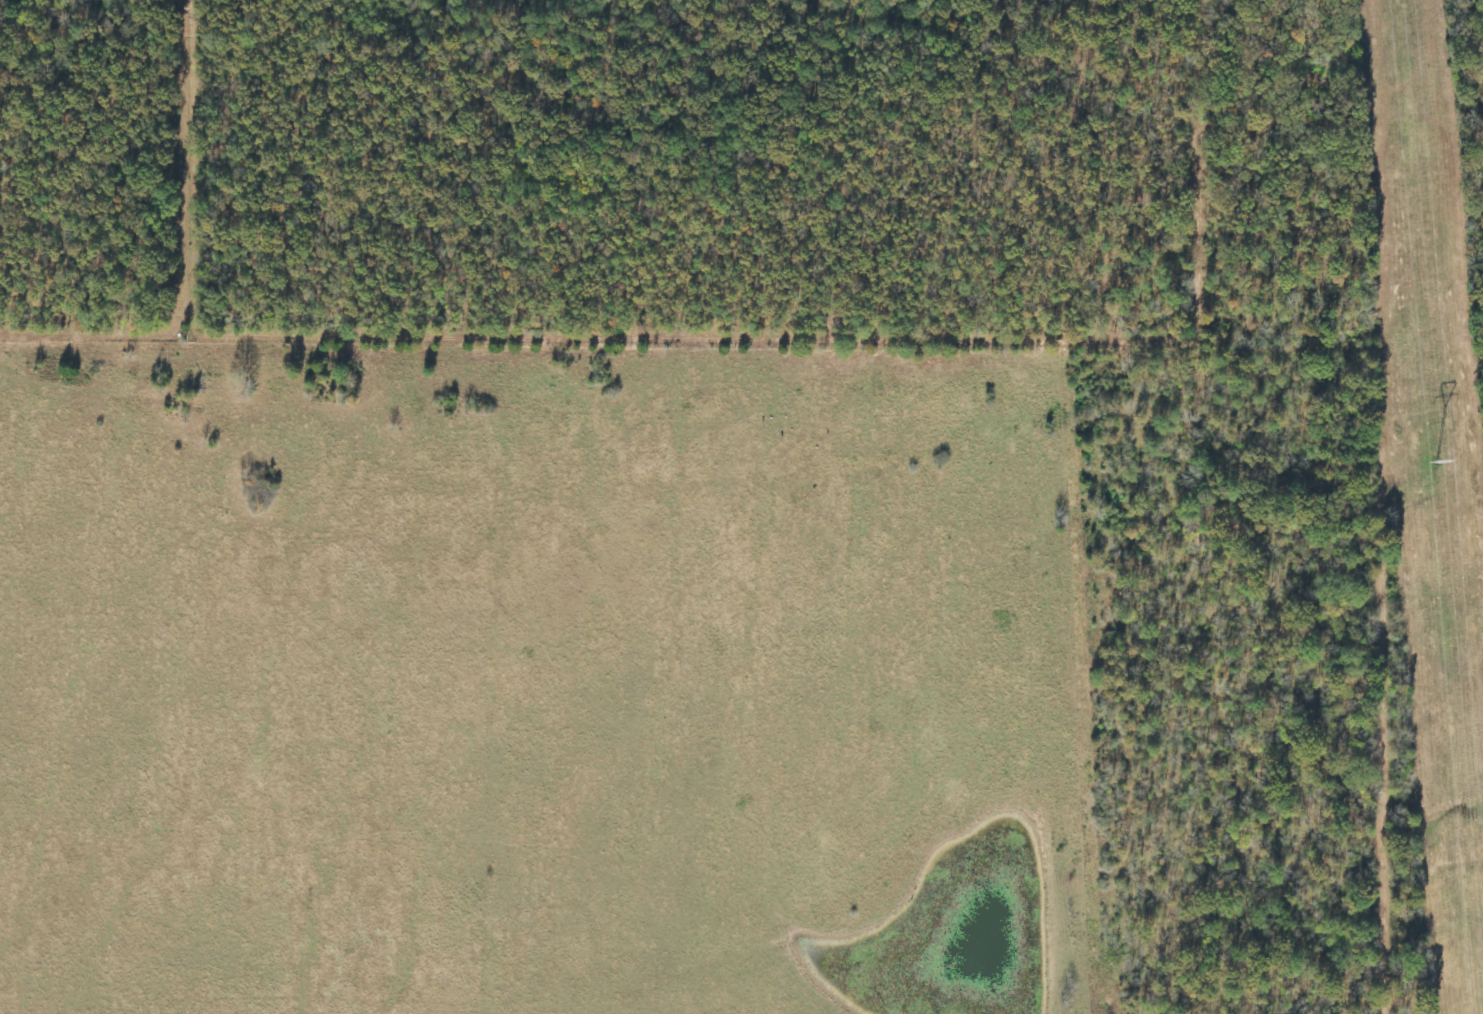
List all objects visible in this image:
power tower: (1436, 459)

